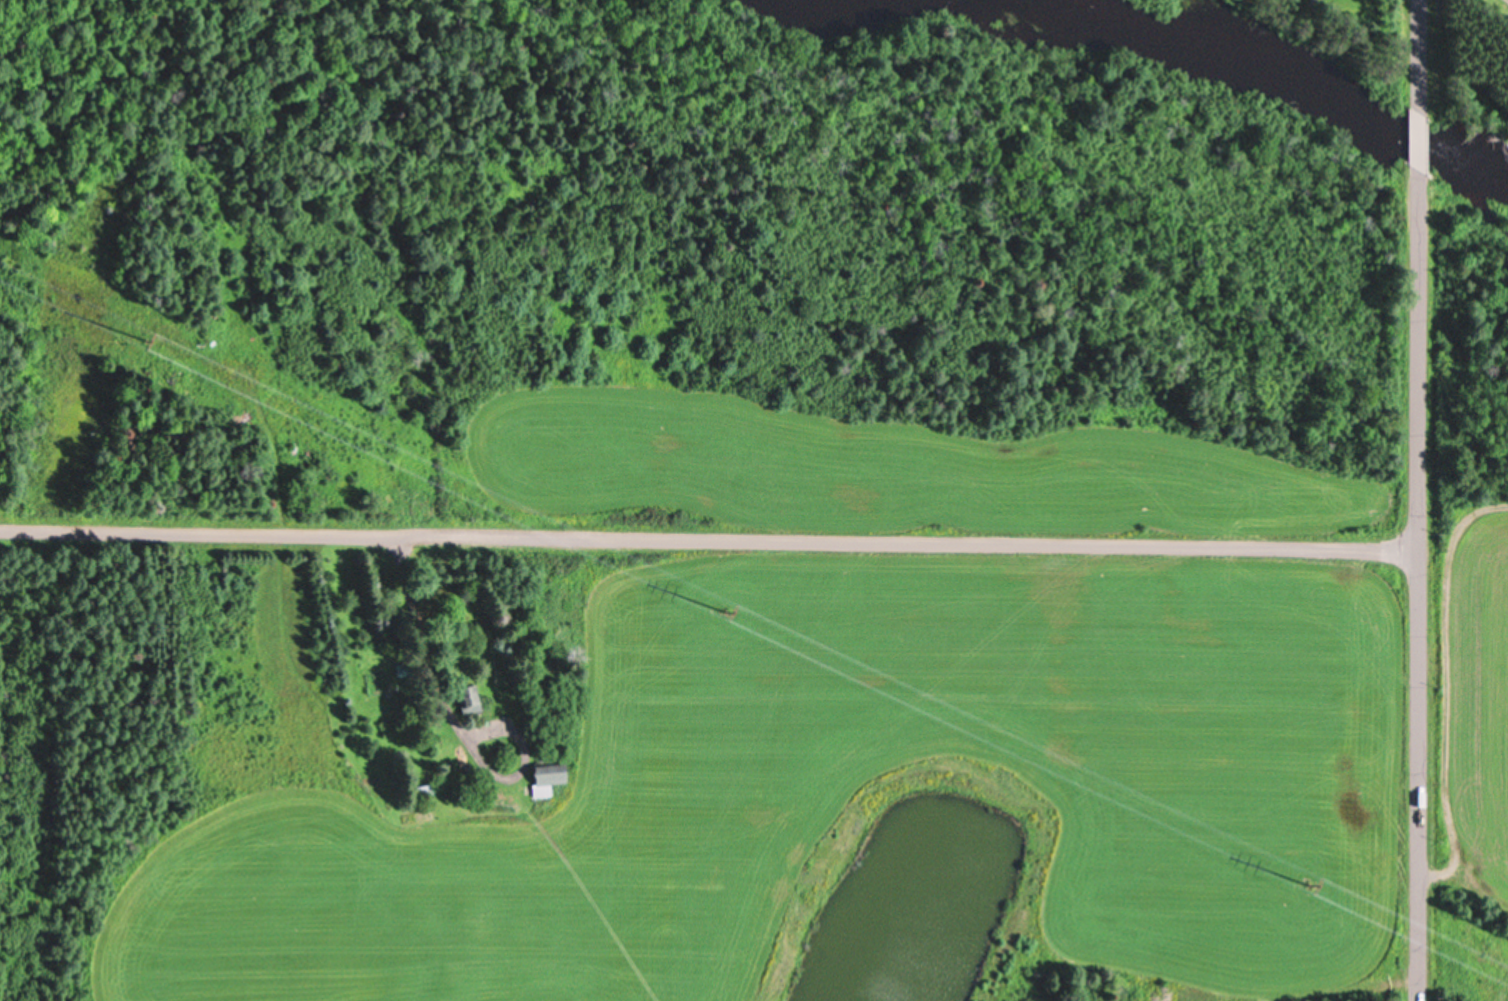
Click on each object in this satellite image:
road: (1419, 54)
river: (1293, 78)
road: (1418, 138)
power tower: (145, 339)
road: (708, 538)
road: (1418, 584)
power tower: (721, 611)
building: (468, 697)
building: (545, 776)
power tower: (1303, 885)

